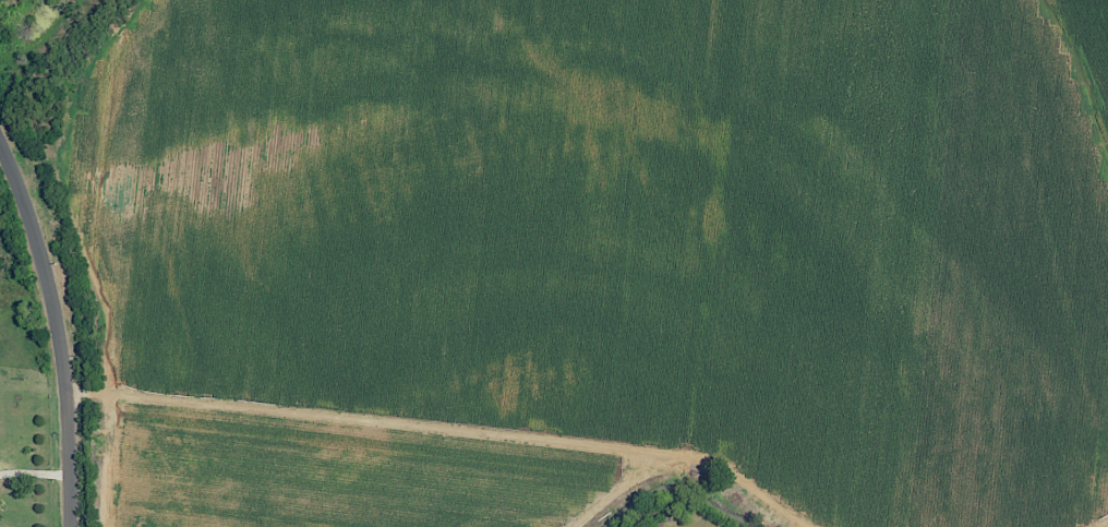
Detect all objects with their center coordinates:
road: (58, 333)
road: (34, 472)

